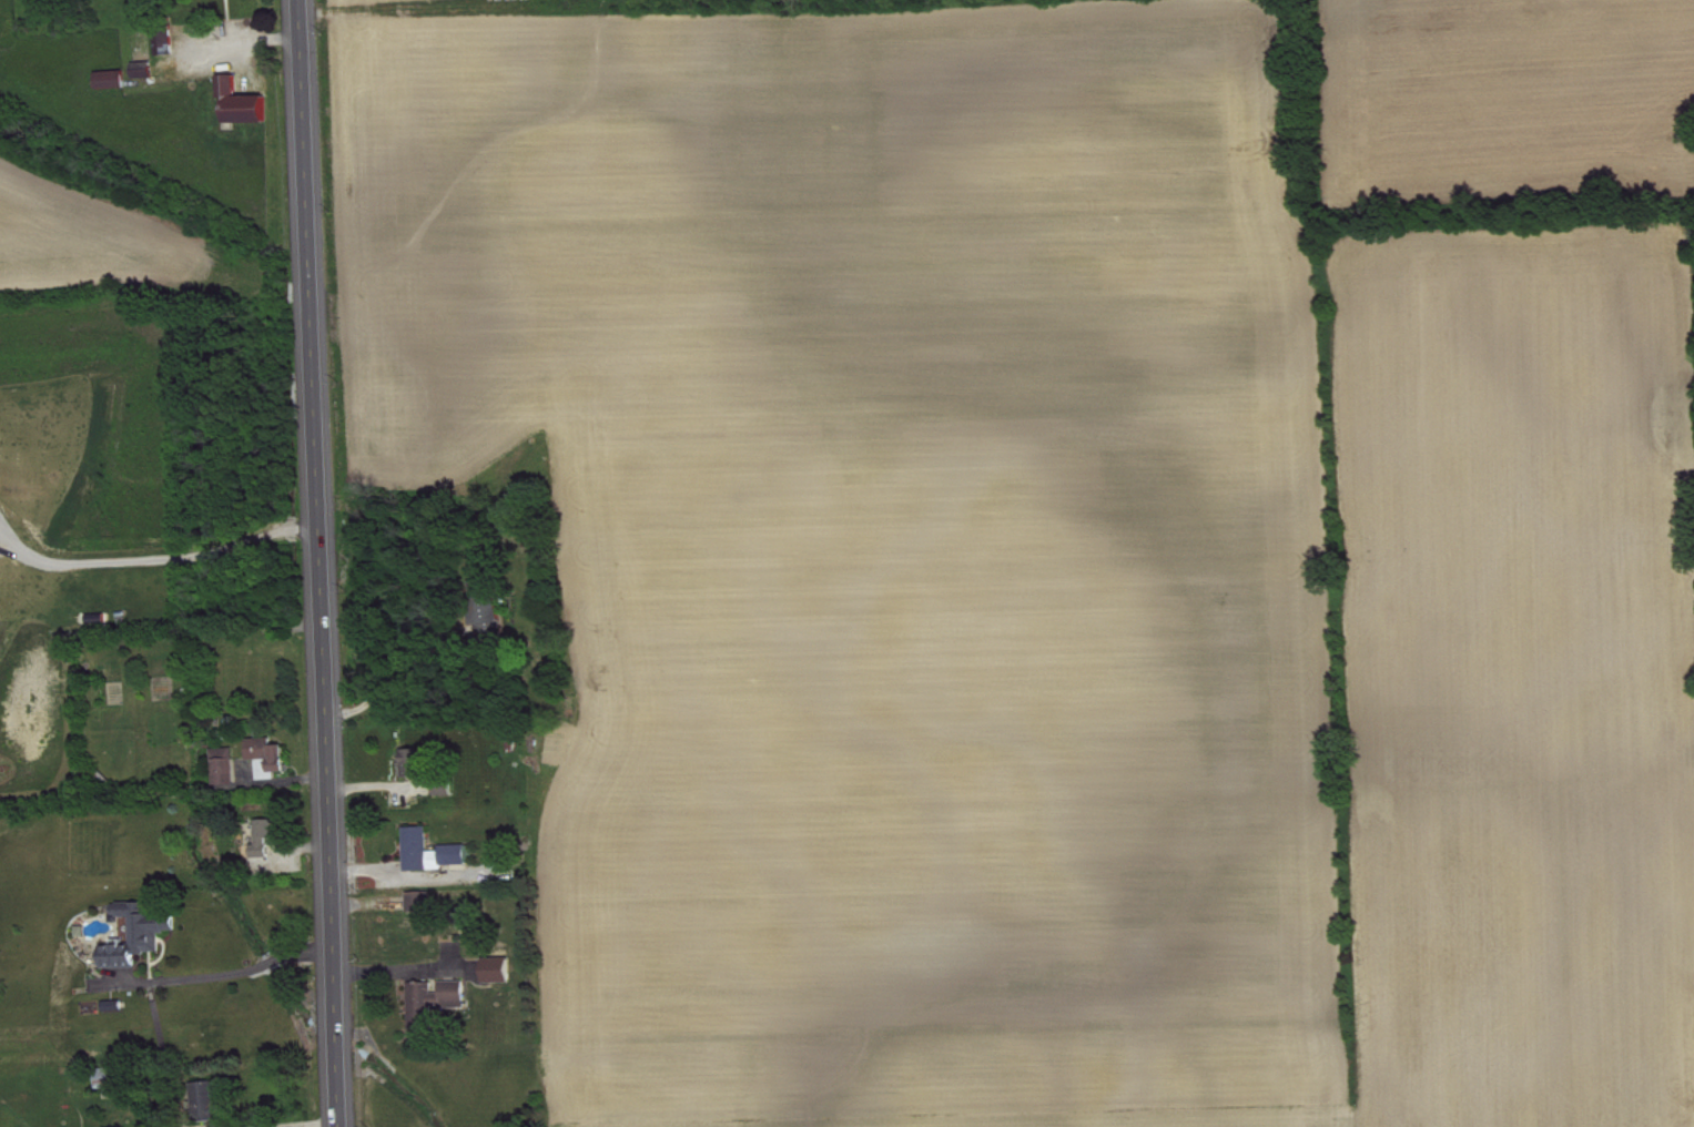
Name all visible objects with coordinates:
building: (170, 44)
building: (149, 71)
building: (118, 81)
building: (248, 104)
road: (154, 558)
road: (319, 563)
building: (494, 617)
road: (396, 676)
building: (274, 755)
building: (419, 764)
building: (230, 768)
building: (268, 840)
building: (436, 853)
building: (425, 903)
building: (143, 936)
road: (222, 972)
building: (503, 972)
building: (438, 1004)
building: (114, 1079)
building: (213, 1103)
road: (287, 1123)

